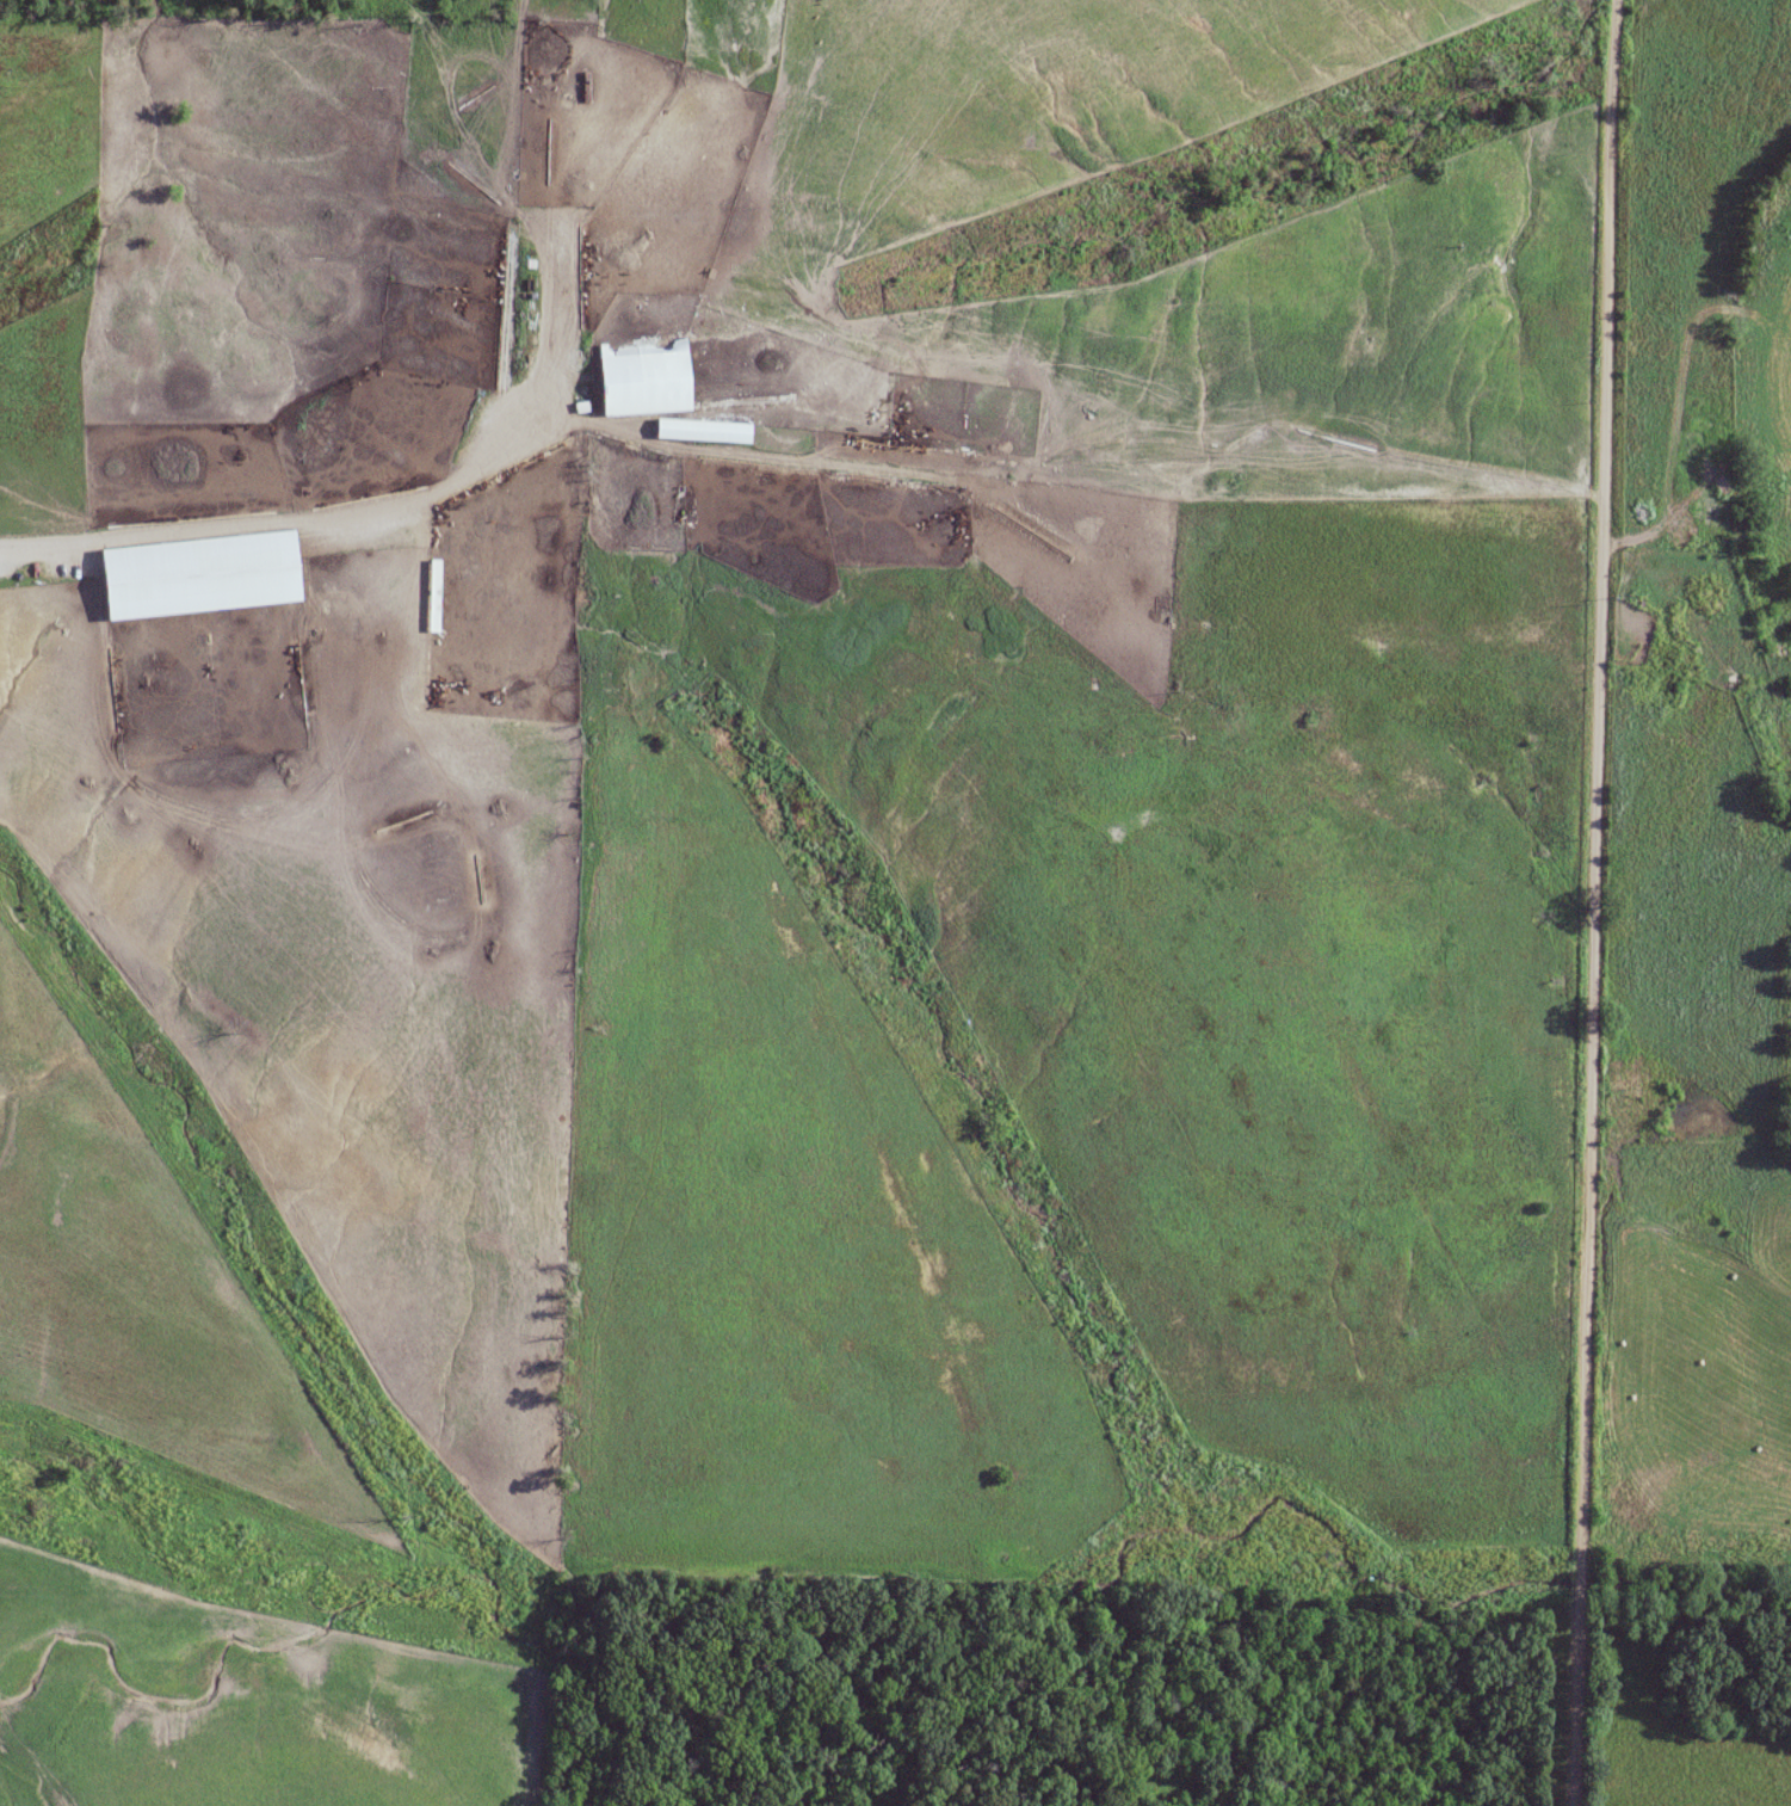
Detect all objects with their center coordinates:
building: (579, 88)
building: (450, 283)
building: (446, 371)
building: (640, 380)
building: (699, 432)
building: (441, 540)
building: (196, 577)
building: (431, 600)
road: (1595, 902)

